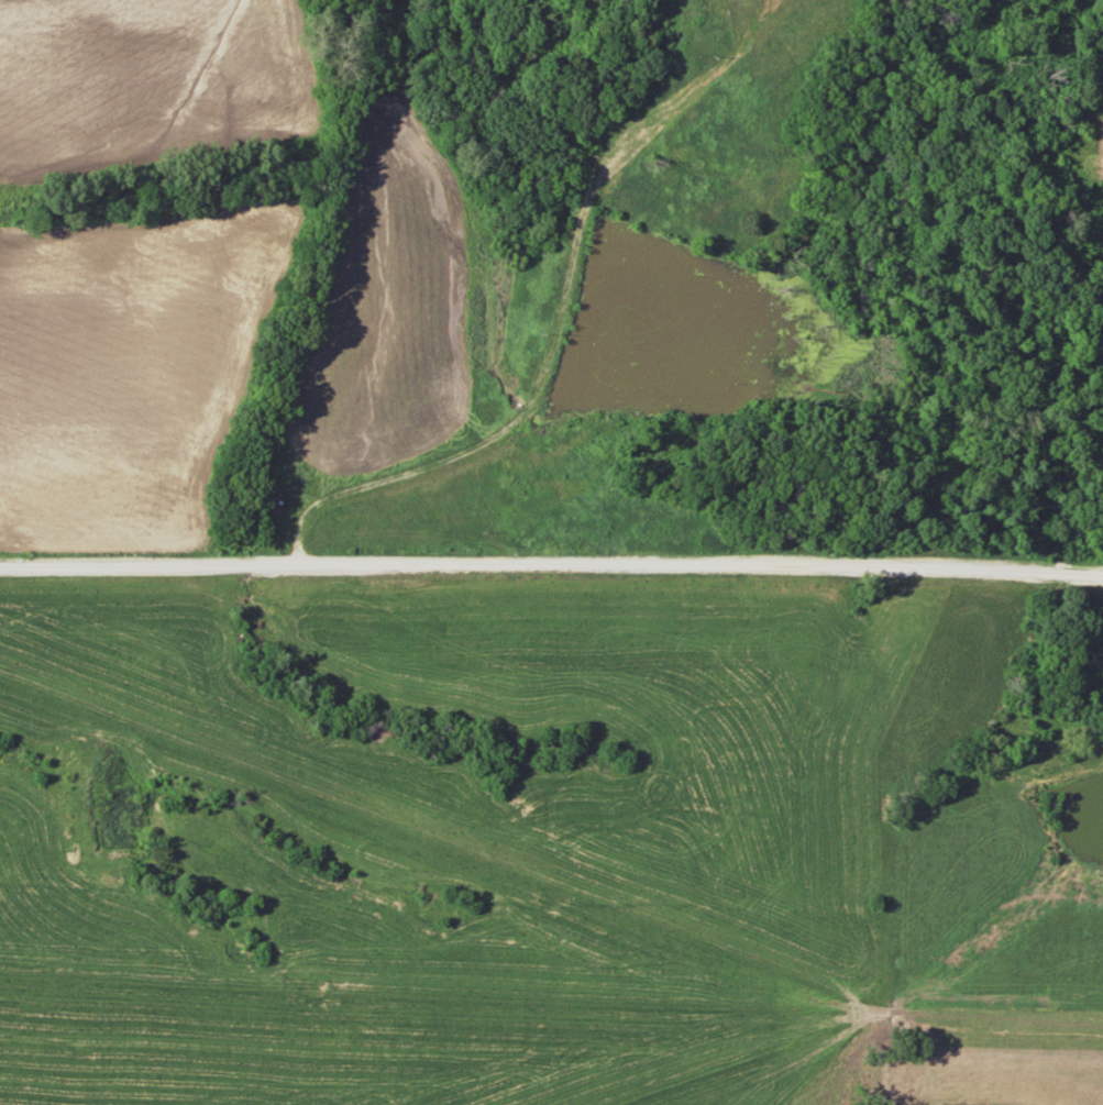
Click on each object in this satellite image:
road: (573, 267)
road: (366, 480)
road: (551, 566)

